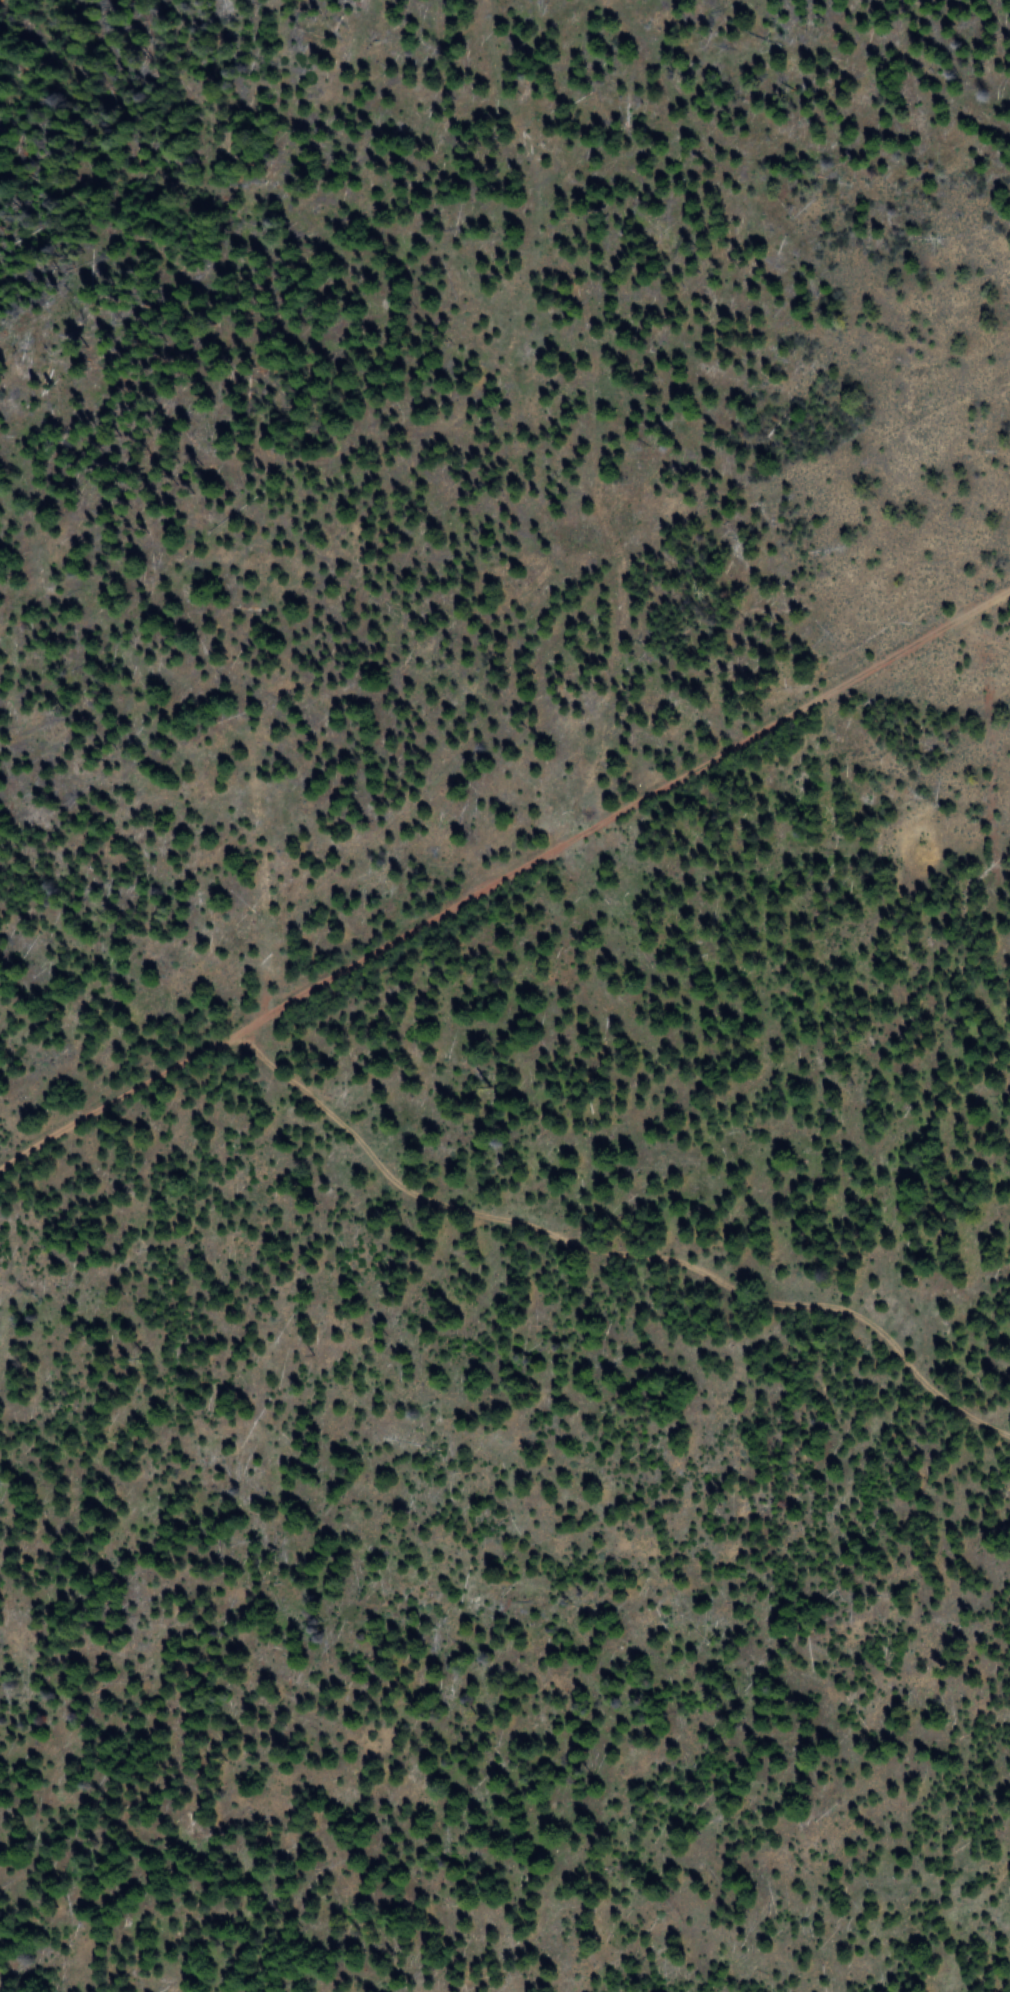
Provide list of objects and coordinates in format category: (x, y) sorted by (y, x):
road: (499, 879)
road: (614, 1253)

